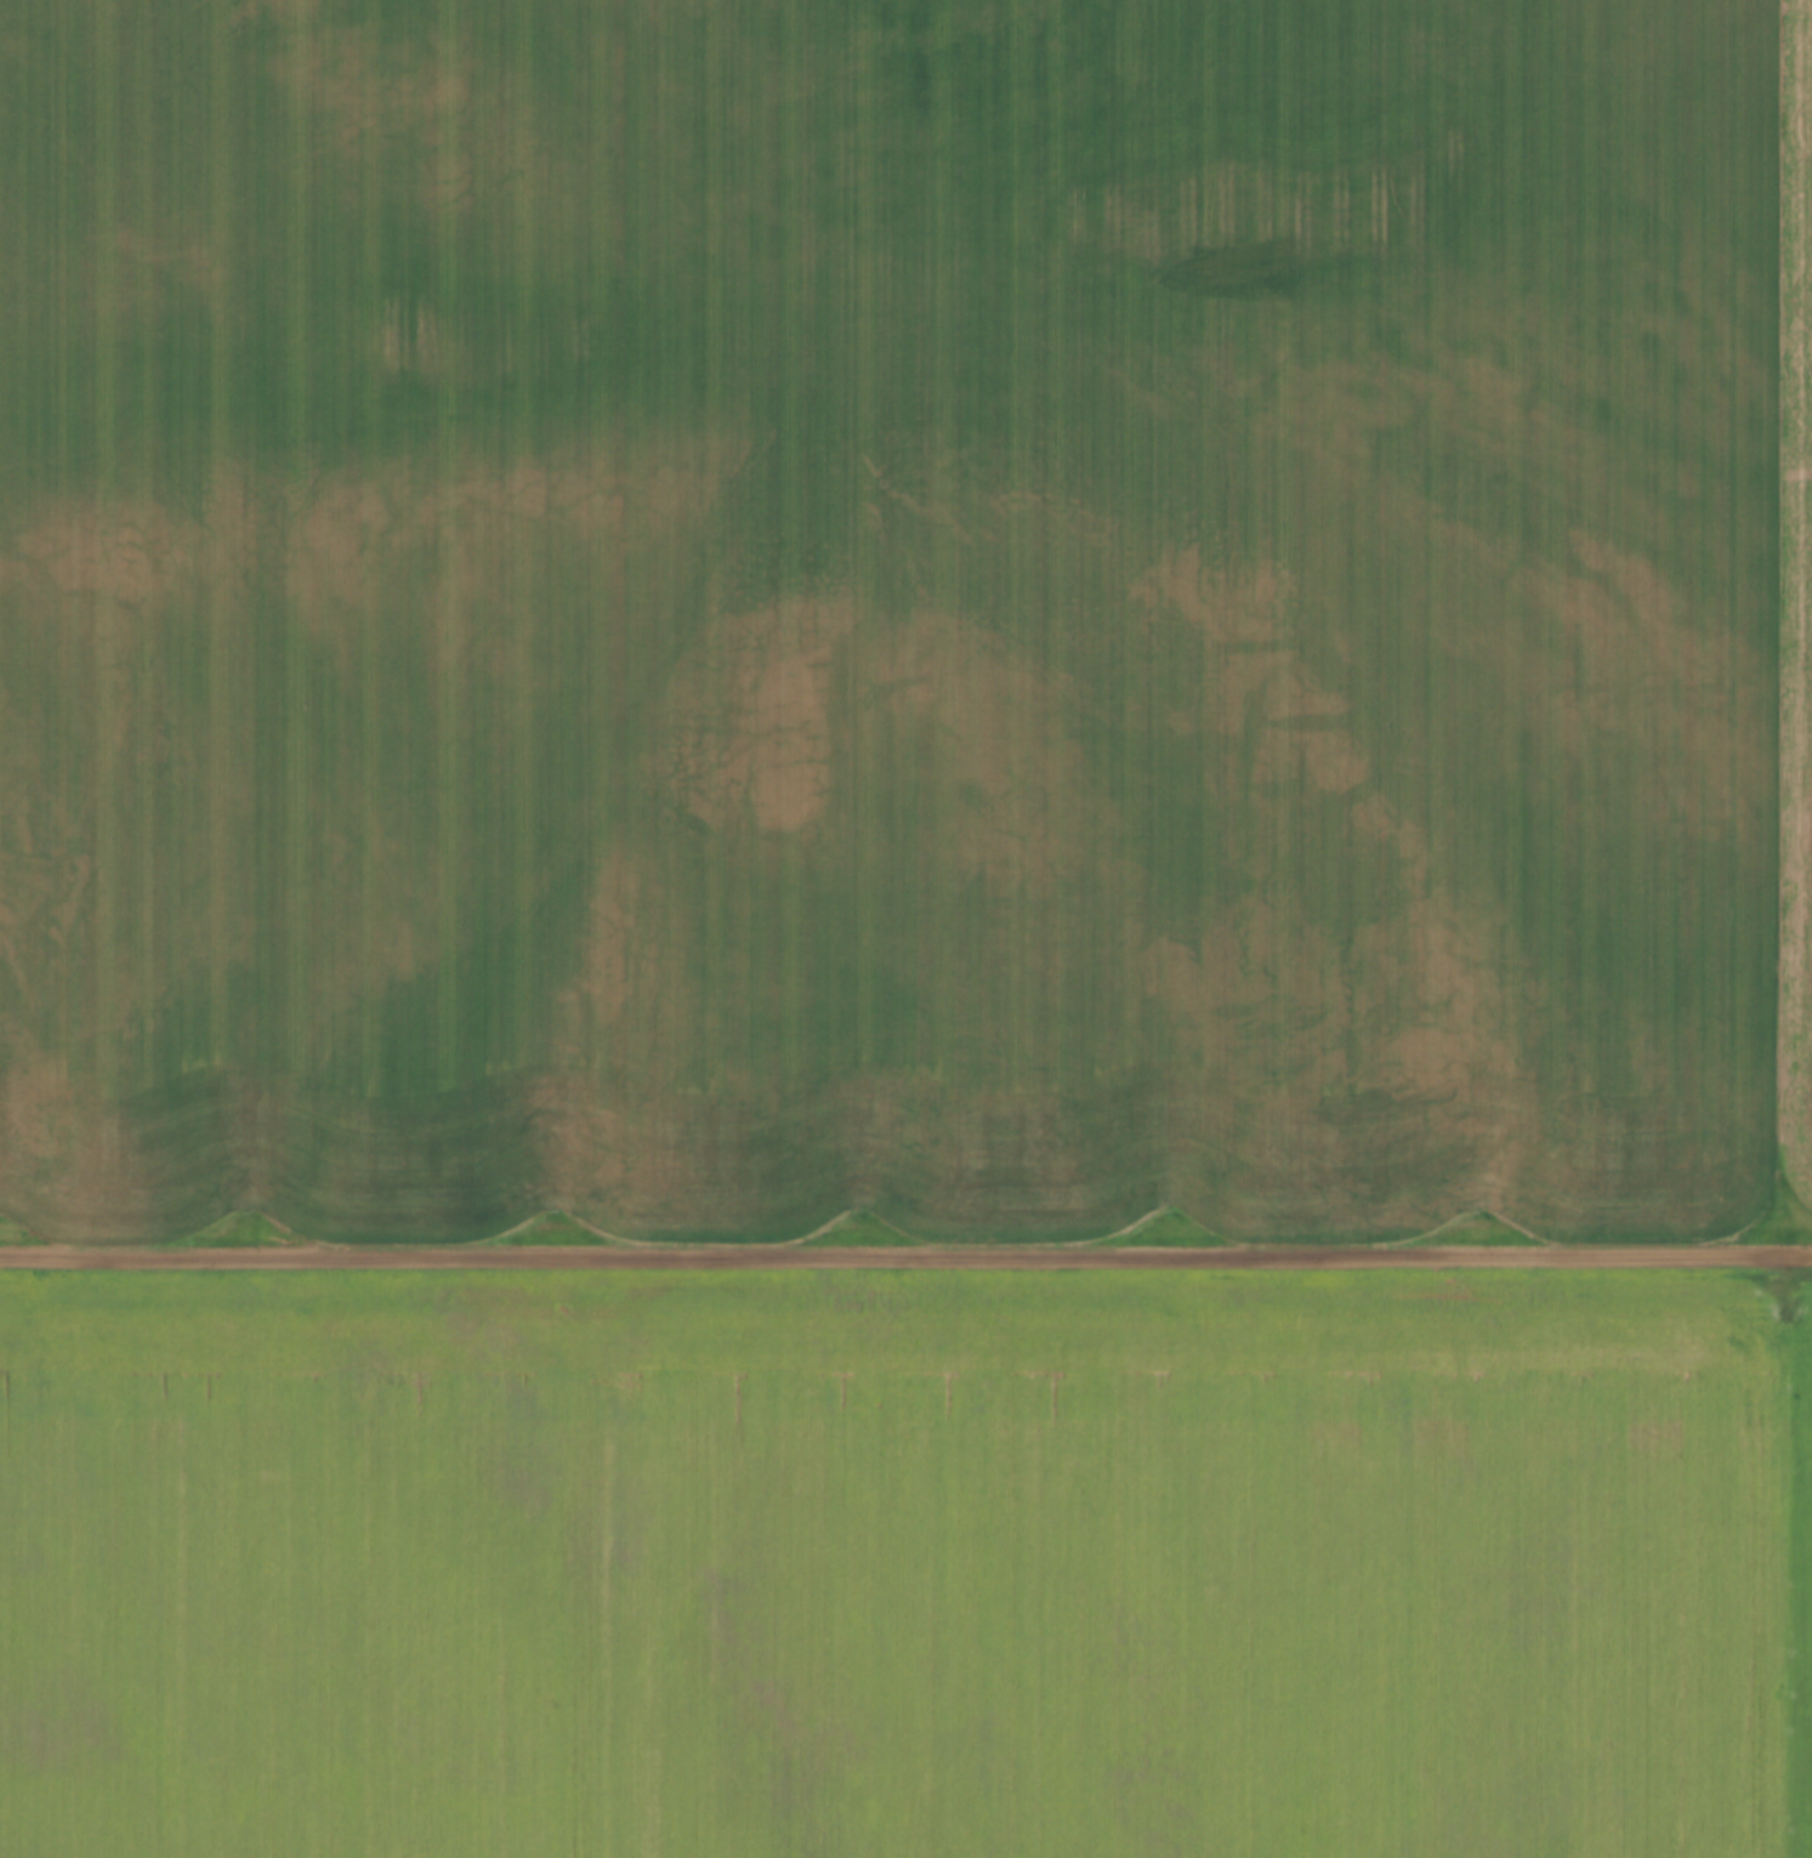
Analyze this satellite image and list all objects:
road: (905, 1261)

